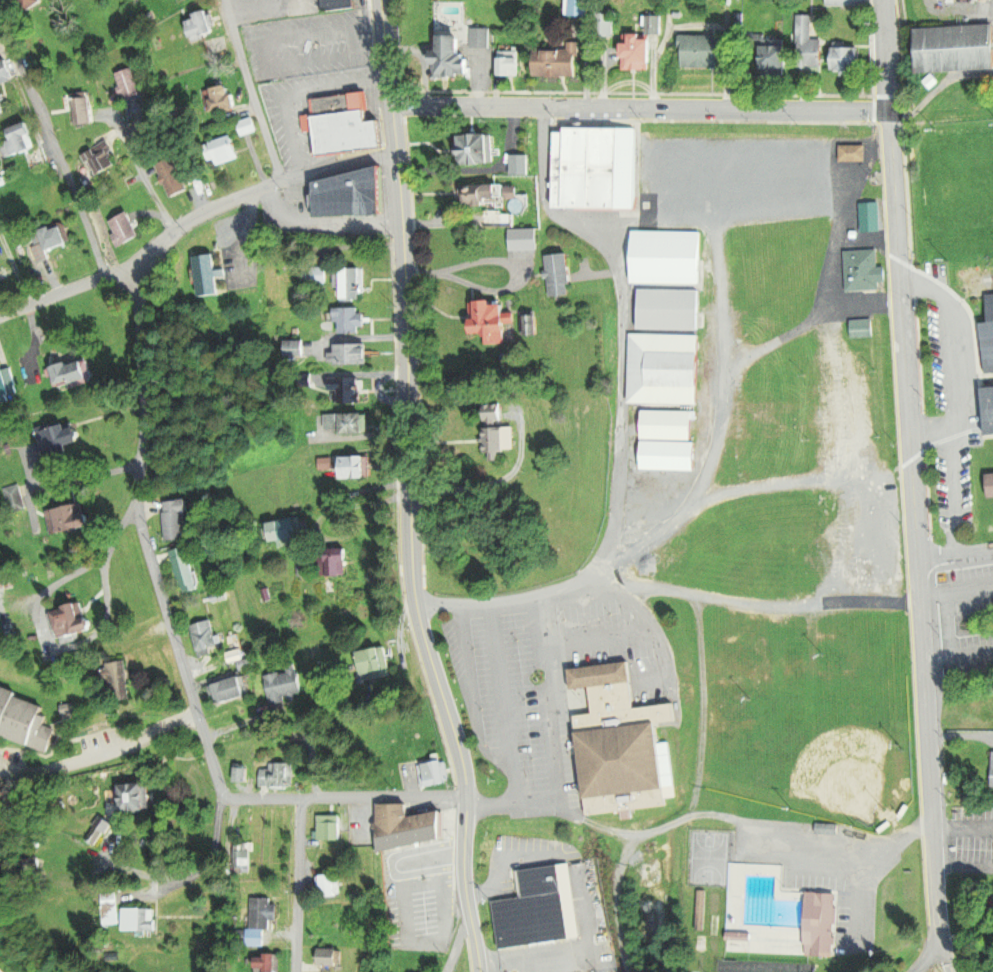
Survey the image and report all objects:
building: (846, 2)
building: (577, 8)
building: (199, 27)
building: (480, 38)
building: (809, 47)
building: (952, 48)
building: (699, 52)
building: (636, 54)
building: (770, 59)
building: (451, 60)
building: (846, 62)
building: (558, 63)
building: (508, 65)
building: (4, 72)
building: (129, 85)
road: (252, 91)
building: (222, 101)
road: (643, 109)
building: (1, 111)
building: (79, 111)
building: (247, 127)
building: (342, 127)
building: (20, 142)
road: (52, 150)
building: (225, 151)
building: (475, 151)
building: (852, 155)
building: (102, 158)
building: (596, 171)
building: (171, 177)
road: (145, 178)
building: (330, 194)
building: (485, 196)
road: (203, 214)
building: (123, 230)
building: (511, 232)
building: (55, 239)
road: (14, 268)
building: (863, 272)
building: (558, 276)
building: (206, 277)
building: (667, 280)
building: (350, 285)
road: (67, 289)
building: (348, 320)
building: (491, 321)
building: (532, 325)
building: (988, 337)
building: (349, 354)
building: (663, 369)
building: (71, 373)
building: (6, 381)
building: (346, 389)
building: (988, 410)
building: (344, 423)
building: (59, 439)
building: (499, 439)
building: (668, 440)
building: (353, 466)
building: (992, 471)
road: (915, 487)
road: (413, 488)
building: (14, 498)
building: (64, 518)
building: (176, 519)
building: (285, 531)
road: (145, 535)
road: (956, 557)
building: (336, 562)
building: (185, 569)
building: (69, 621)
building: (205, 636)
building: (375, 663)
building: (118, 681)
building: (284, 685)
building: (231, 690)
building: (24, 719)
building: (617, 733)
building: (992, 771)
building: (432, 774)
building: (277, 775)
road: (344, 797)
building: (134, 798)
building: (407, 827)
building: (329, 830)
building: (328, 856)
building: (242, 857)
road: (299, 885)
building: (330, 886)
building: (536, 909)
building: (777, 911)
building: (263, 913)
building: (137, 921)
building: (329, 957)
road: (928, 957)
building: (266, 964)
park: (761, 966)
building: (0, 971)

